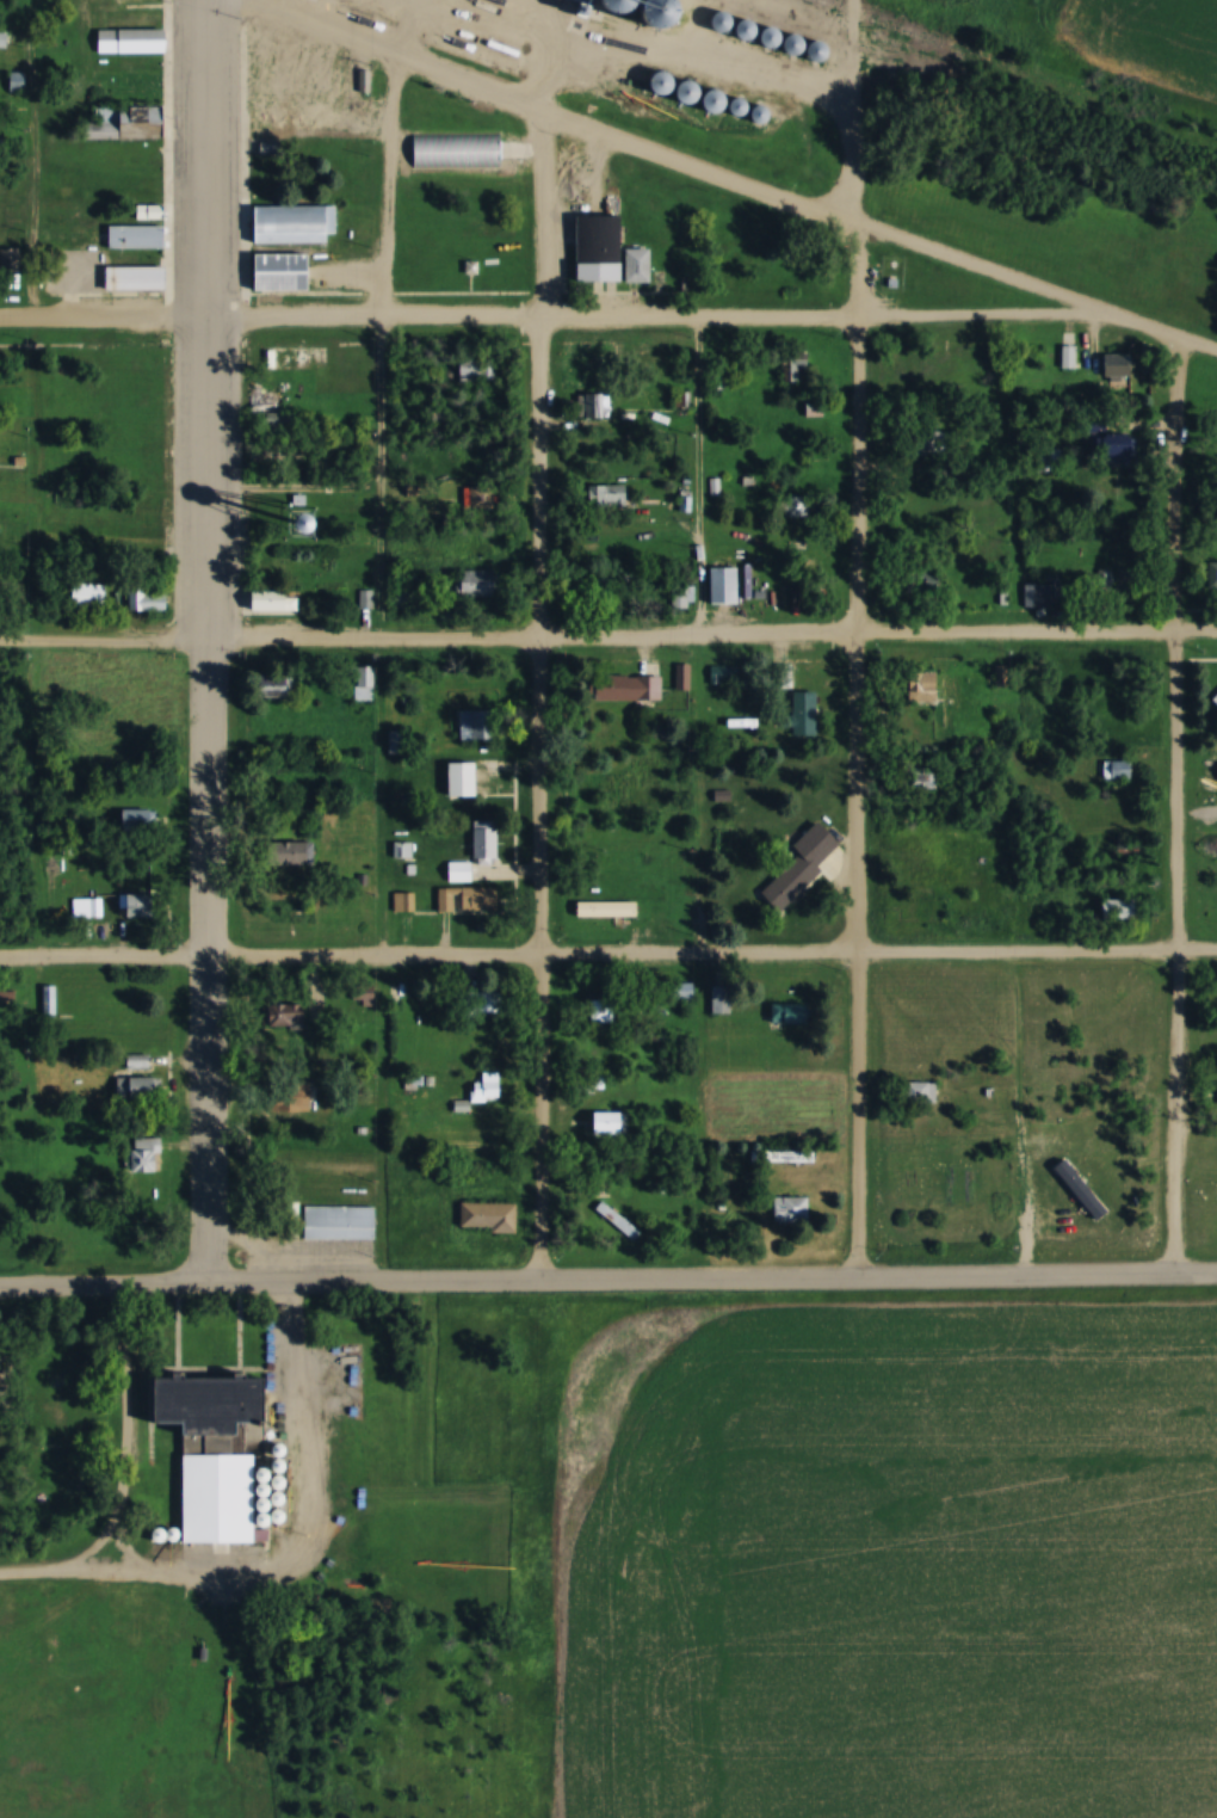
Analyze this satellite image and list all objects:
railway: (912, 32)
crop: (1153, 36)
building: (132, 43)
railway: (966, 61)
building: (138, 93)
building: (128, 125)
building: (455, 148)
road: (35, 158)
road: (723, 178)
building: (290, 222)
building: (135, 232)
building: (613, 252)
building: (10, 261)
building: (282, 269)
building: (132, 276)
road: (554, 318)
road: (208, 319)
road: (381, 346)
building: (1069, 358)
building: (1120, 366)
building: (796, 368)
building: (480, 370)
building: (603, 374)
building: (271, 403)
building: (600, 407)
building: (816, 409)
building: (1126, 449)
road: (697, 477)
building: (484, 497)
building: (612, 498)
building: (799, 507)
building: (1215, 575)
building: (625, 583)
building: (480, 584)
building: (727, 587)
building: (80, 594)
building: (1033, 597)
building: (399, 598)
building: (681, 599)
building: (150, 602)
building: (273, 602)
road: (608, 636)
road: (858, 637)
building: (723, 676)
building: (1002, 677)
building: (363, 684)
building: (280, 688)
building: (927, 688)
building: (631, 690)
road: (543, 698)
building: (1216, 701)
building: (801, 715)
building: (478, 725)
building: (394, 742)
building: (934, 775)
building: (461, 779)
road: (204, 796)
road: (1174, 802)
building: (138, 821)
building: (476, 853)
building: (298, 855)
building: (804, 865)
building: (467, 901)
building: (402, 904)
building: (136, 907)
building: (605, 908)
building: (1119, 910)
road: (608, 955)
building: (48, 1000)
building: (719, 1000)
building: (603, 1011)
building: (119, 1012)
building: (789, 1015)
building: (290, 1016)
building: (137, 1089)
building: (926, 1092)
road: (206, 1121)
building: (617, 1122)
building: (51, 1124)
building: (144, 1155)
building: (790, 1210)
building: (488, 1218)
building: (338, 1220)
building: (616, 1224)
road: (608, 1284)
road: (117, 1428)
building: (218, 1493)
road: (58, 1567)

